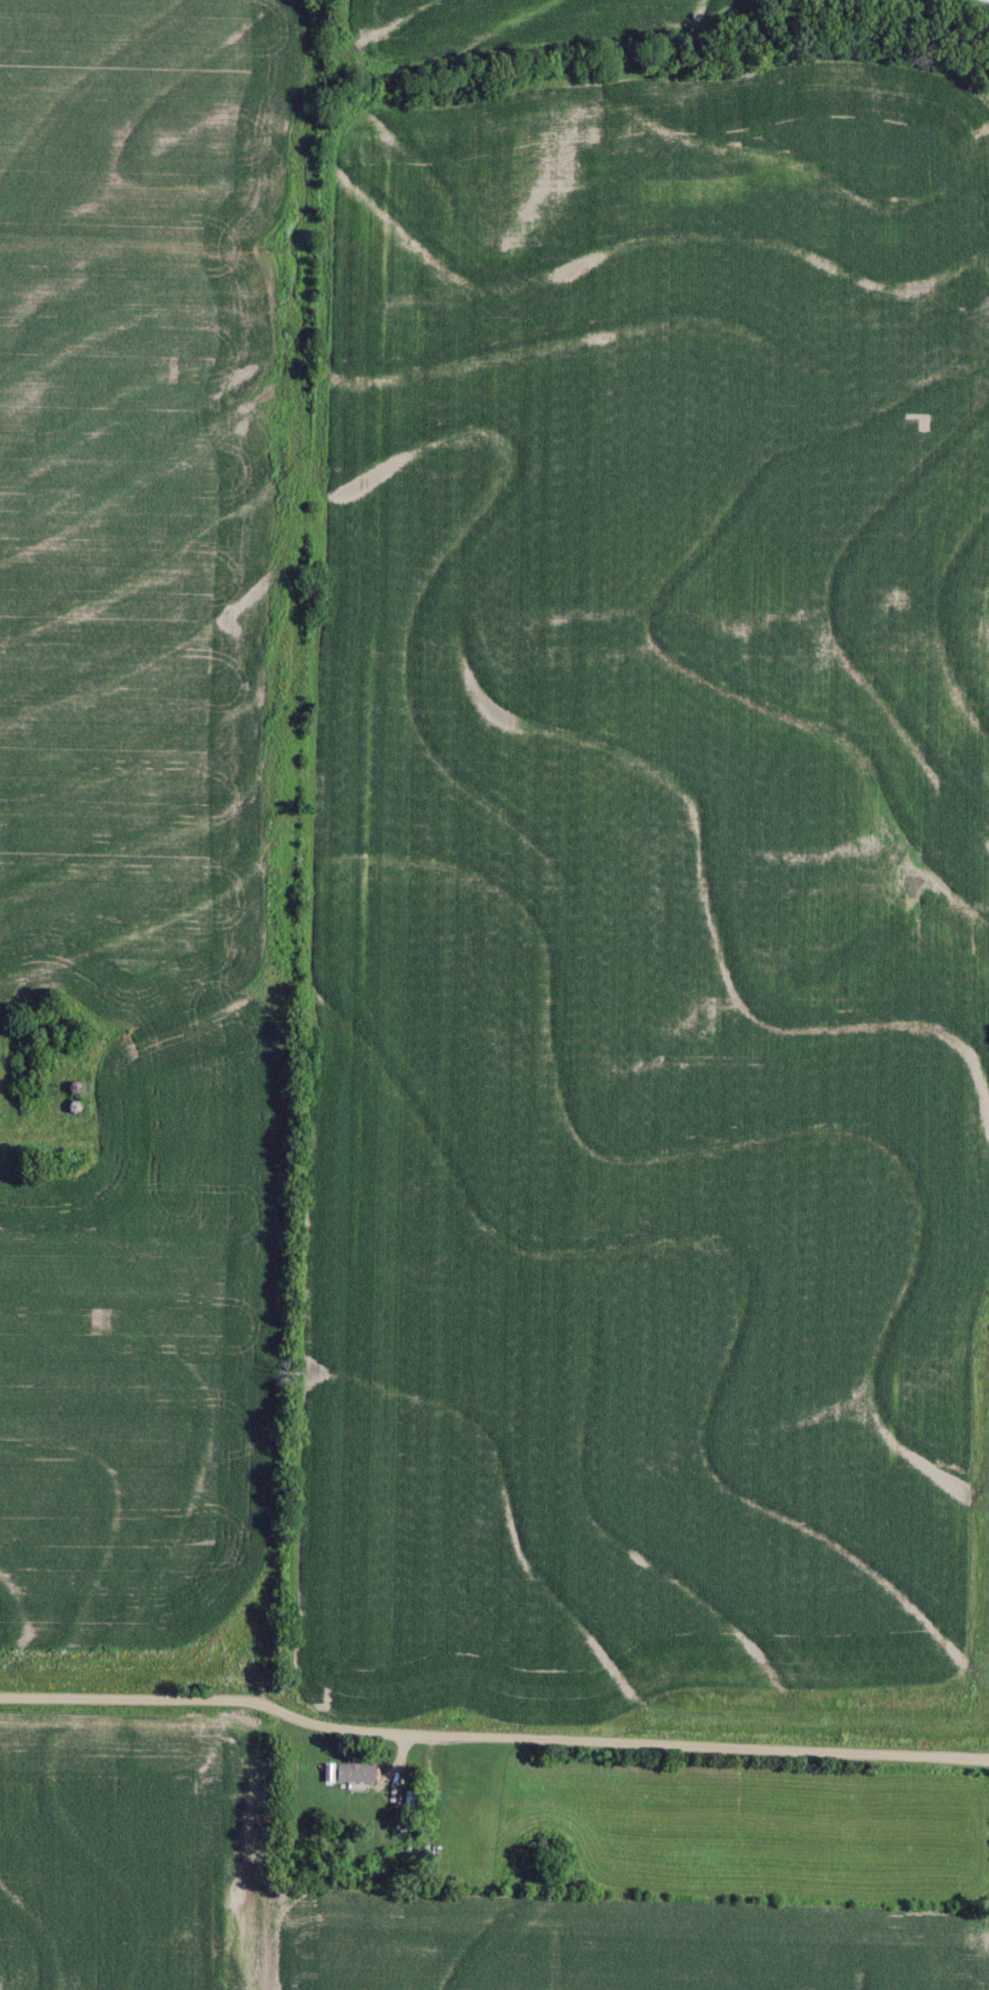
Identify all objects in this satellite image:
crop: (961, 1)
crop: (507, 25)
road: (311, 1675)
road: (491, 1741)
building: (354, 1772)
building: (410, 1805)
building: (502, 1828)
crop: (604, 1943)

